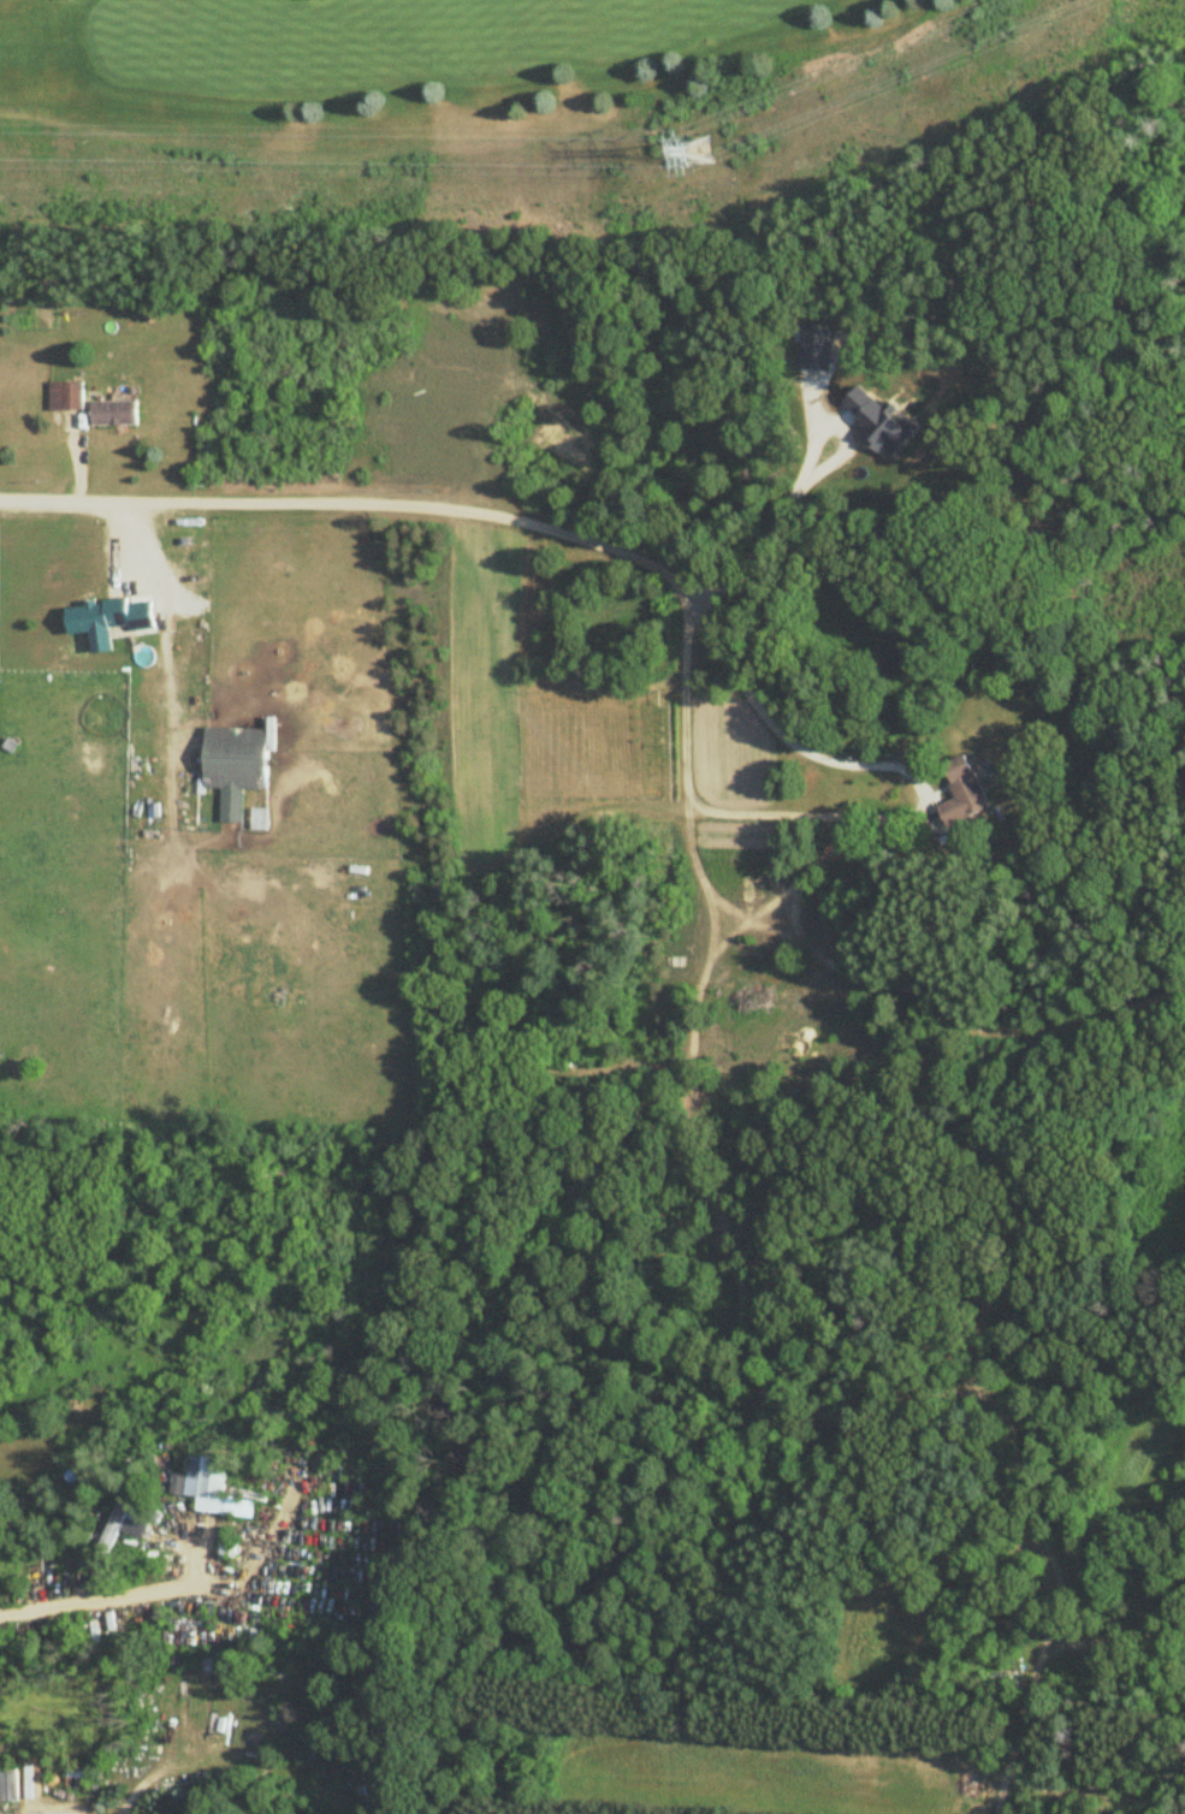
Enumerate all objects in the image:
park: (398, 66)
power tower: (699, 156)
building: (66, 397)
building: (113, 414)
road: (351, 504)
road: (780, 528)
building: (99, 616)
building: (236, 766)
building: (964, 793)
road: (872, 812)
road: (1026, 1422)
building: (217, 1489)
building: (124, 1525)
road: (94, 1606)

